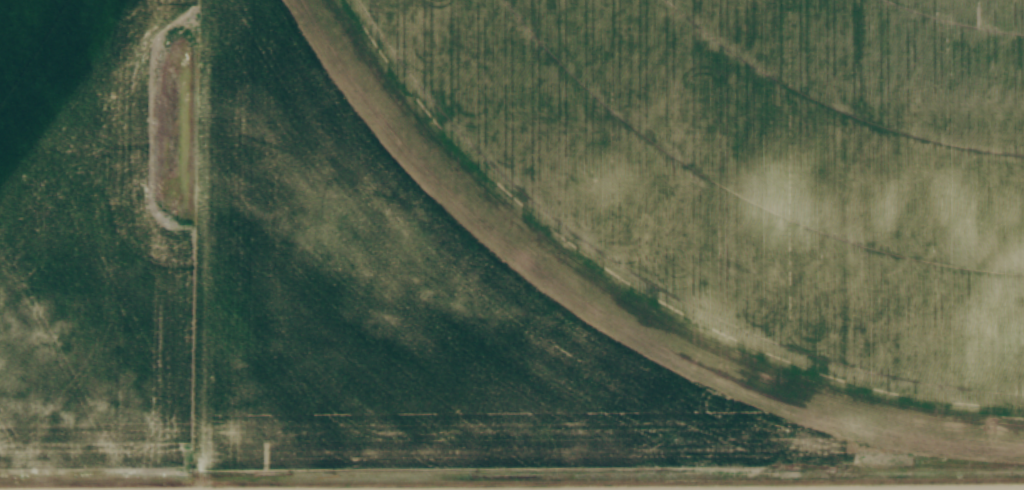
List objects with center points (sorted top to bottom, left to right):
road: (884, 489)

